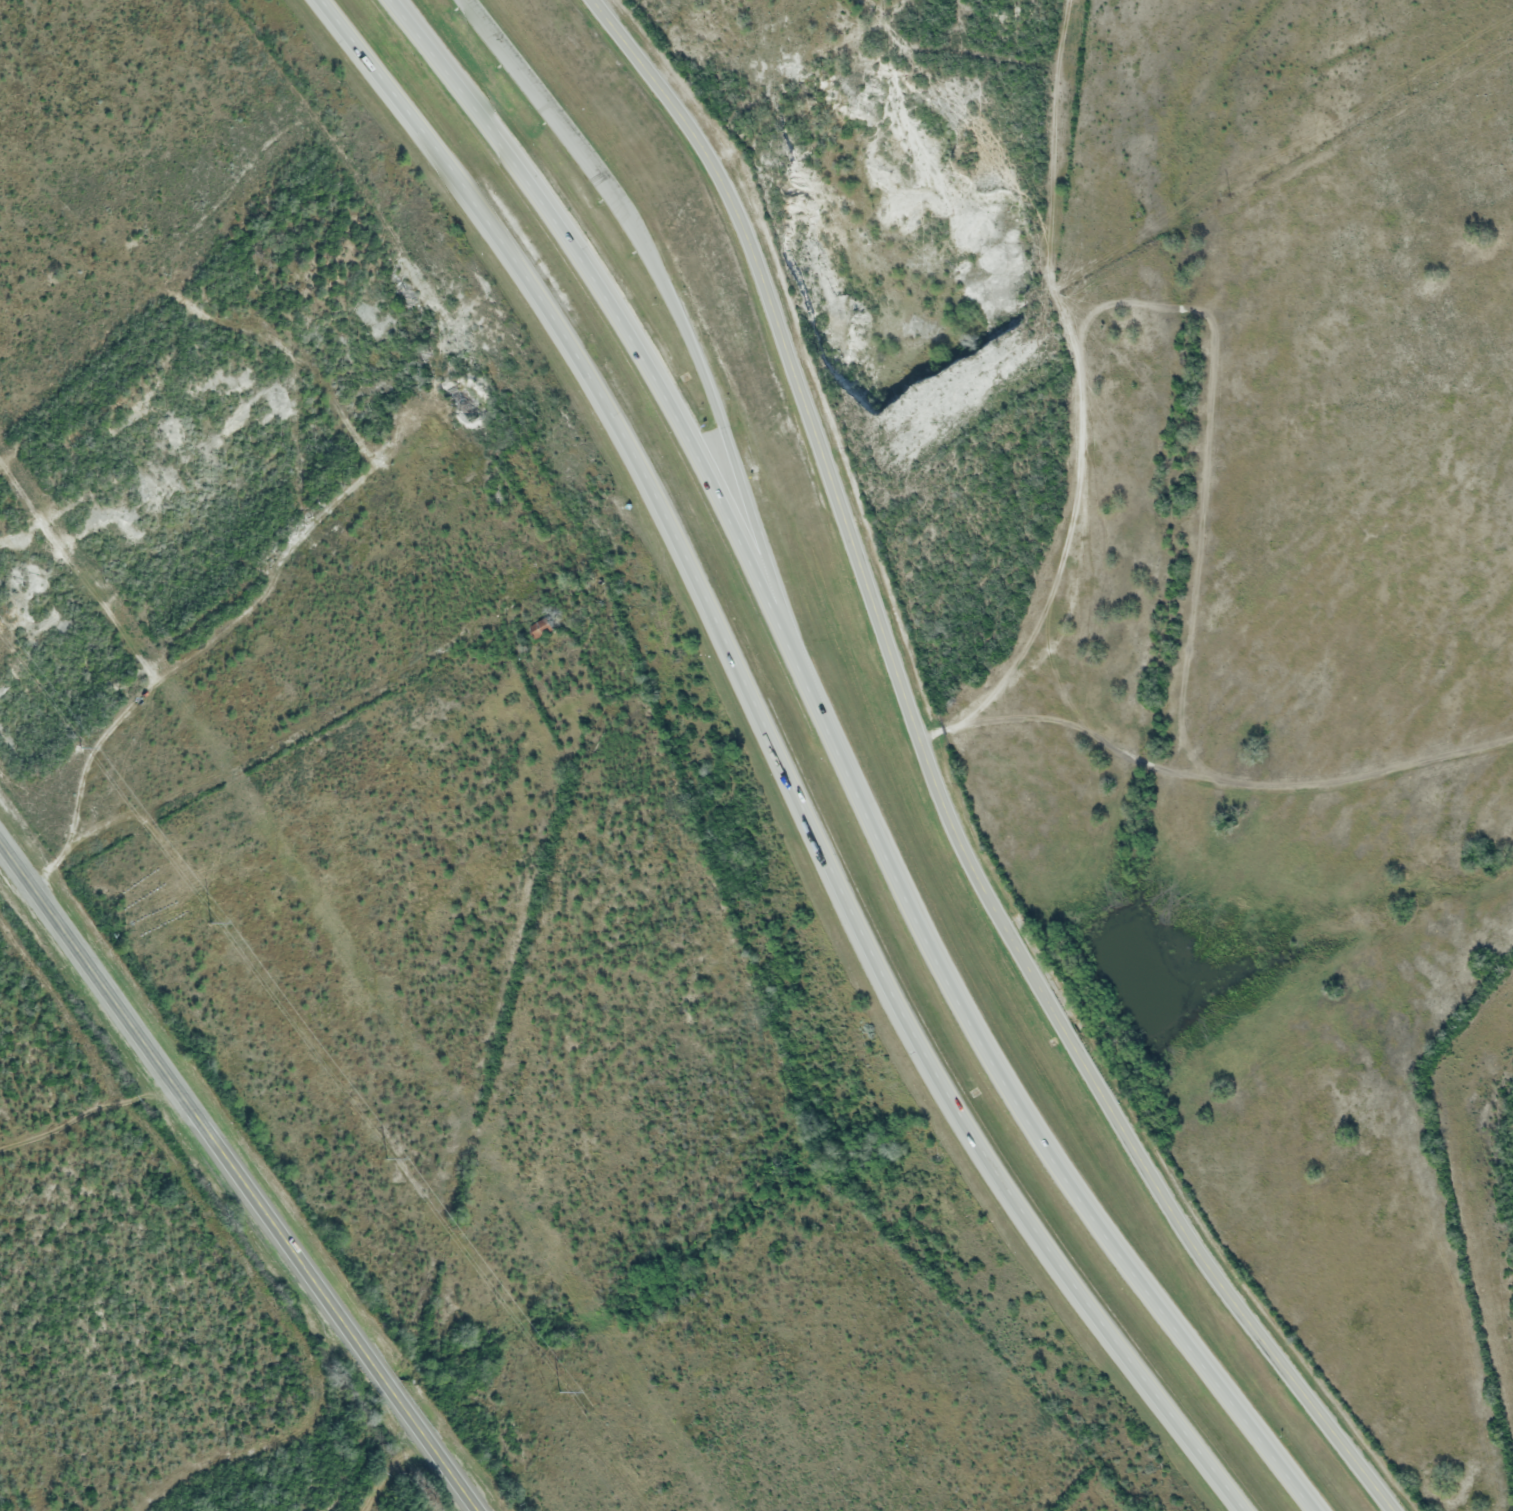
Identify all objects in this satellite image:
road: (571, 134)
road: (694, 352)
road: (761, 548)
building: (543, 628)
power tower: (75, 749)
road: (775, 757)
road: (842, 764)
road: (934, 783)
power tower: (207, 925)
power tower: (383, 1157)
road: (239, 1176)
power tower: (558, 1393)

